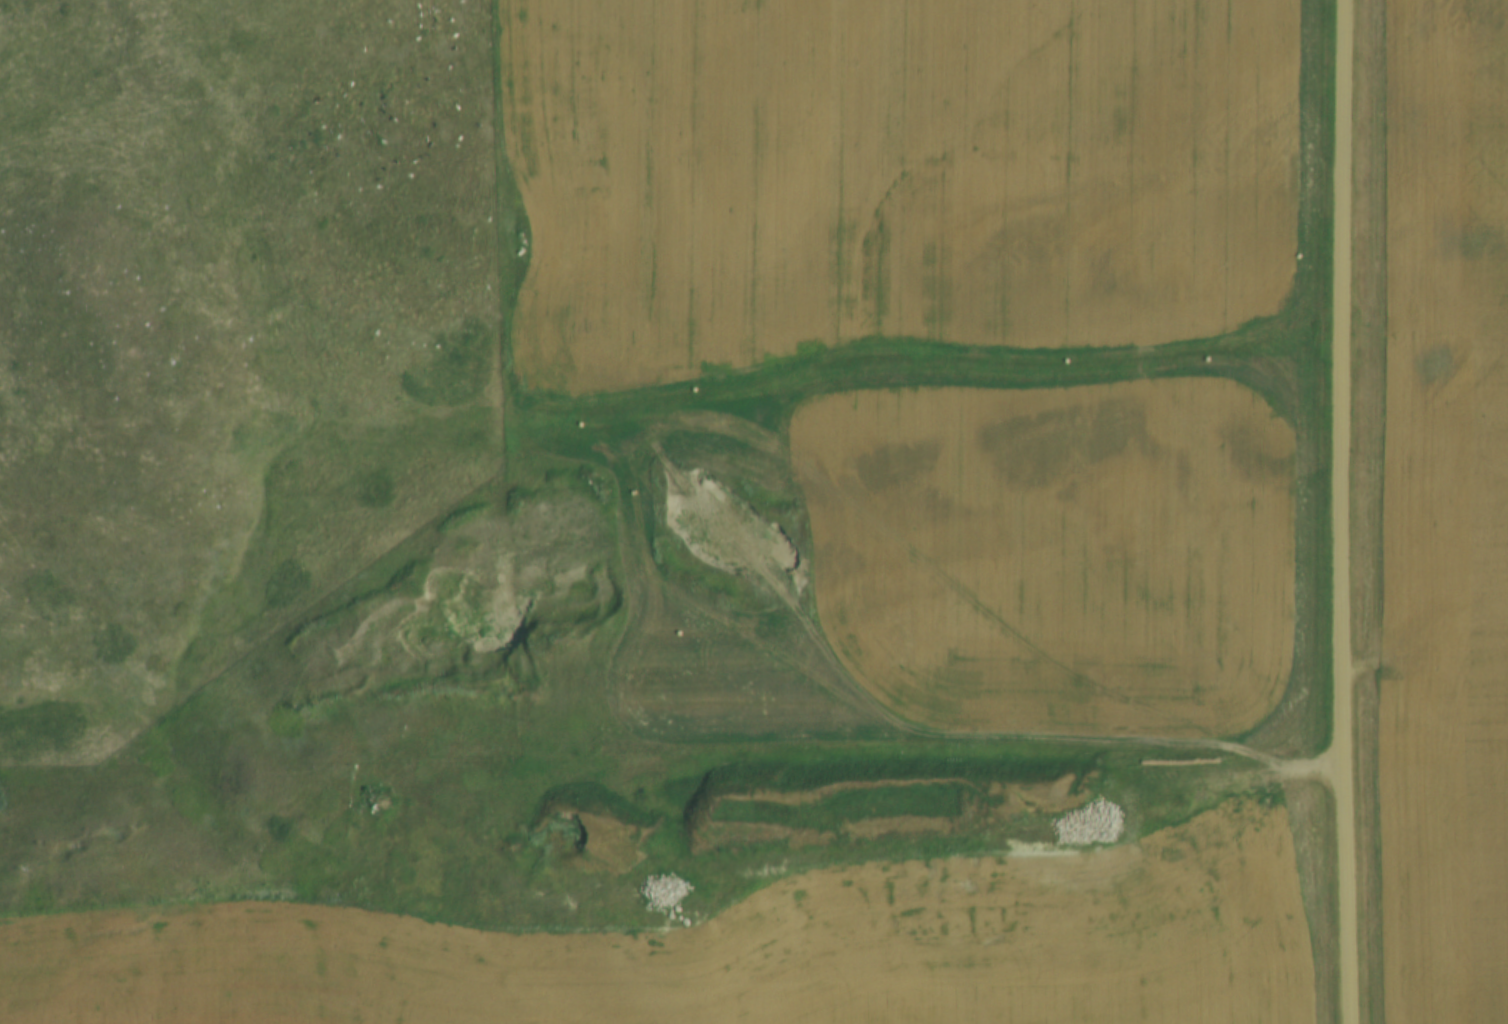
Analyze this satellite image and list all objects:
road: (1340, 511)
quarry: (732, 530)
quarry: (468, 611)
road: (783, 646)
road: (808, 750)
quarry: (896, 847)
road: (930, 848)

